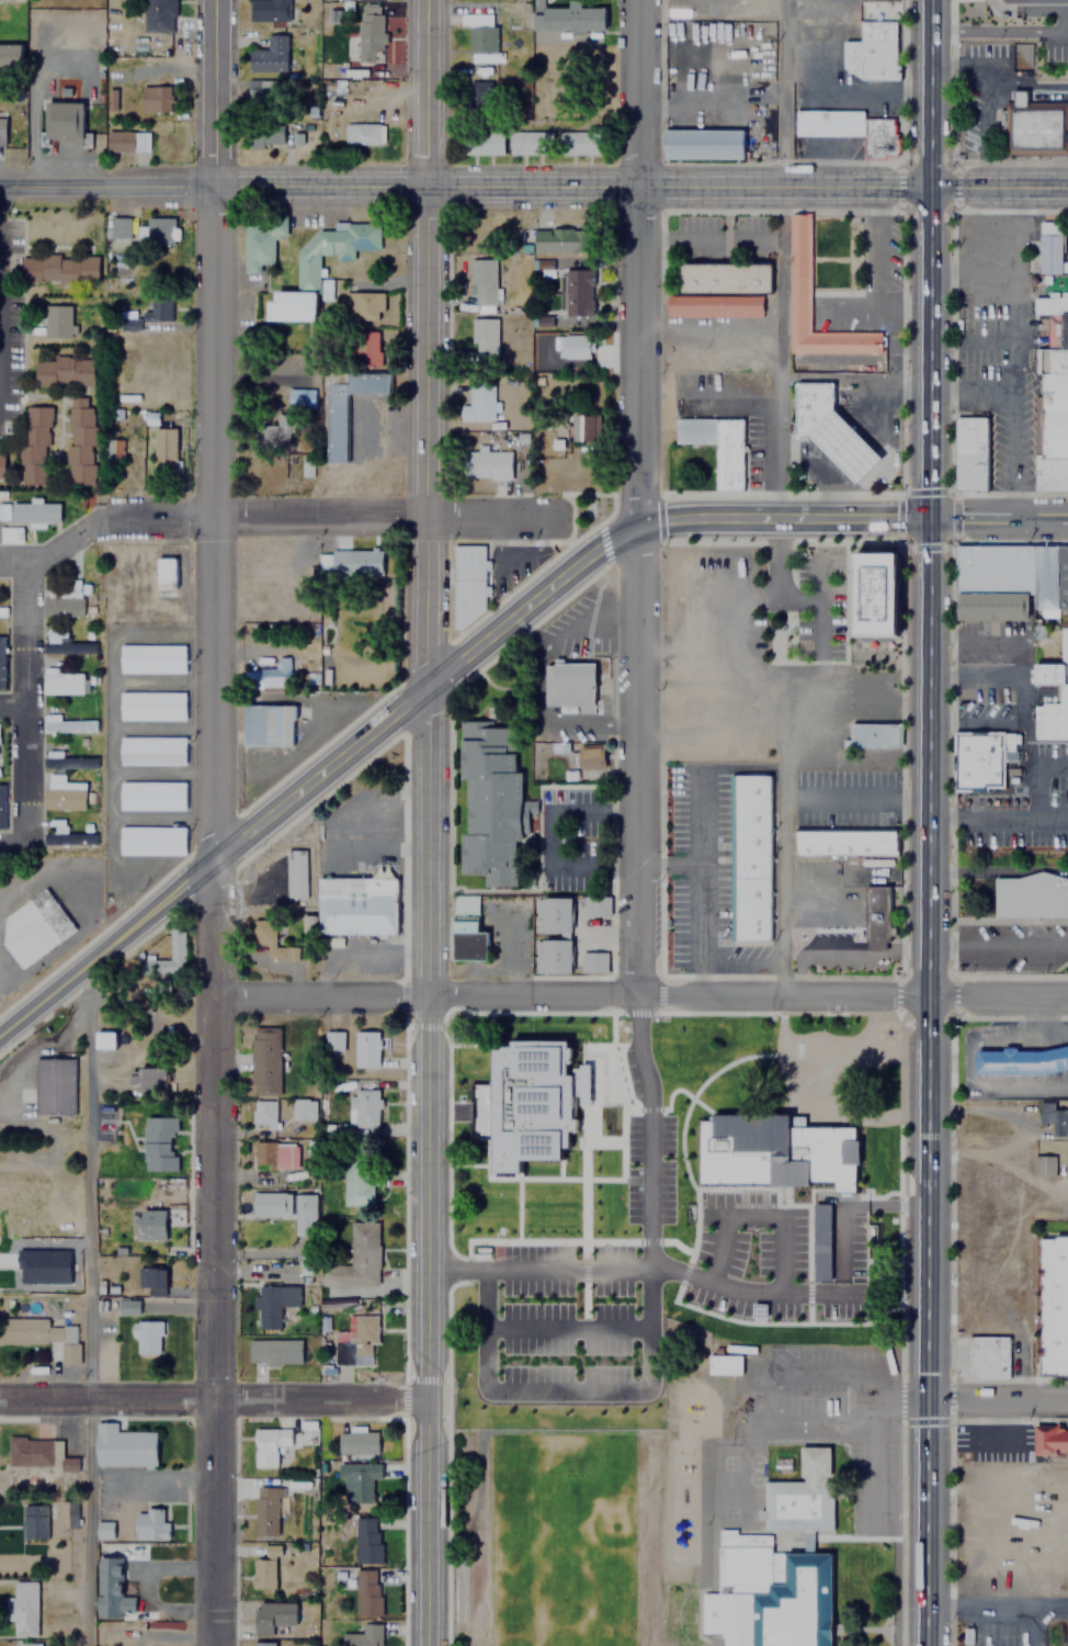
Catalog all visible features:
building: (268, 11)
building: (158, 15)
building: (566, 18)
building: (371, 32)
building: (479, 36)
building: (874, 42)
building: (269, 54)
building: (10, 57)
building: (263, 91)
road: (214, 93)
building: (155, 98)
building: (478, 99)
building: (1022, 99)
building: (63, 120)
building: (1, 129)
building: (849, 129)
building: (1036, 129)
building: (362, 133)
building: (266, 135)
building: (126, 140)
building: (482, 143)
building: (529, 143)
building: (579, 144)
building: (702, 144)
road: (106, 187)
road: (640, 189)
building: (118, 228)
building: (160, 229)
building: (566, 240)
building: (258, 244)
building: (1049, 247)
building: (833, 253)
road: (782, 258)
building: (57, 269)
building: (798, 272)
building: (305, 277)
building: (481, 282)
building: (327, 290)
building: (718, 290)
building: (578, 293)
road: (19, 303)
building: (363, 306)
building: (157, 307)
building: (56, 320)
building: (130, 324)
building: (484, 340)
building: (572, 346)
building: (365, 349)
building: (63, 371)
building: (298, 398)
building: (1052, 398)
building: (478, 402)
building: (344, 406)
building: (810, 406)
building: (286, 427)
building: (578, 428)
building: (80, 442)
building: (33, 446)
building: (716, 446)
building: (843, 448)
building: (111, 450)
building: (970, 454)
building: (1, 465)
building: (486, 465)
building: (669, 477)
road: (645, 497)
road: (331, 510)
building: (29, 512)
road: (786, 516)
traffic signals: (929, 516)
road: (998, 516)
building: (9, 534)
road: (11, 551)
building: (348, 563)
building: (992, 571)
building: (164, 574)
building: (259, 575)
building: (1049, 578)
building: (467, 584)
building: (874, 596)
building: (63, 602)
building: (991, 607)
building: (1, 612)
building: (1067, 619)
road: (1041, 640)
road: (993, 641)
building: (63, 642)
road: (929, 643)
building: (1063, 645)
road: (22, 652)
building: (152, 653)
building: (1, 663)
building: (1050, 675)
building: (271, 676)
building: (61, 683)
building: (569, 687)
building: (1064, 695)
road: (11, 696)
building: (154, 700)
road: (1024, 701)
building: (1050, 721)
building: (68, 725)
building: (266, 726)
building: (872, 735)
building: (152, 745)
building: (581, 757)
road: (951, 759)
building: (67, 760)
building: (975, 762)
road: (318, 771)
road: (1035, 776)
building: (154, 789)
road: (984, 793)
building: (65, 794)
building: (489, 800)
building: (1, 807)
road: (701, 807)
road: (982, 819)
road: (1052, 820)
road: (428, 822)
road: (3, 834)
building: (64, 835)
building: (152, 835)
building: (844, 842)
building: (749, 858)
road: (998, 870)
building: (297, 872)
parking lot: (702, 876)
road: (781, 876)
building: (1031, 894)
building: (356, 904)
building: (464, 904)
building: (595, 904)
building: (553, 913)
road: (215, 916)
building: (876, 916)
building: (468, 917)
road: (1009, 920)
building: (34, 921)
road: (701, 931)
building: (473, 936)
building: (270, 939)
building: (175, 944)
road: (998, 947)
road: (843, 949)
building: (552, 955)
building: (593, 960)
road: (898, 993)
road: (641, 994)
building: (104, 1039)
building: (331, 1039)
building: (365, 1048)
building: (263, 1053)
building: (1021, 1060)
road: (886, 1061)
building: (147, 1076)
building: (53, 1085)
building: (364, 1107)
building: (302, 1108)
building: (545, 1109)
building: (263, 1112)
building: (482, 1114)
building: (1055, 1116)
road: (816, 1117)
building: (159, 1142)
building: (779, 1150)
building: (260, 1153)
building: (285, 1154)
building: (1066, 1158)
building: (1044, 1166)
park: (679, 1170)
building: (356, 1182)
building: (270, 1203)
road: (842, 1205)
building: (304, 1213)
road: (754, 1217)
building: (825, 1221)
building: (151, 1224)
building: (360, 1254)
building: (45, 1265)
road: (650, 1269)
building: (150, 1281)
building: (273, 1303)
building: (1055, 1305)
road: (84, 1307)
road: (567, 1329)
road: (650, 1331)
building: (41, 1334)
building: (146, 1337)
building: (355, 1341)
building: (273, 1351)
building: (987, 1356)
building: (724, 1364)
road: (213, 1394)
road: (998, 1401)
building: (1050, 1439)
building: (356, 1442)
building: (266, 1445)
building: (123, 1446)
building: (36, 1452)
road: (928, 1467)
building: (357, 1480)
building: (265, 1510)
building: (72, 1513)
building: (34, 1522)
park: (558, 1523)
building: (149, 1524)
building: (105, 1530)
building: (366, 1540)
building: (776, 1568)
building: (262, 1572)
building: (111, 1589)
building: (366, 1592)
road: (997, 1606)
building: (24, 1608)
building: (262, 1619)
building: (362, 1635)
building: (29, 1644)
building: (262, 1644)

